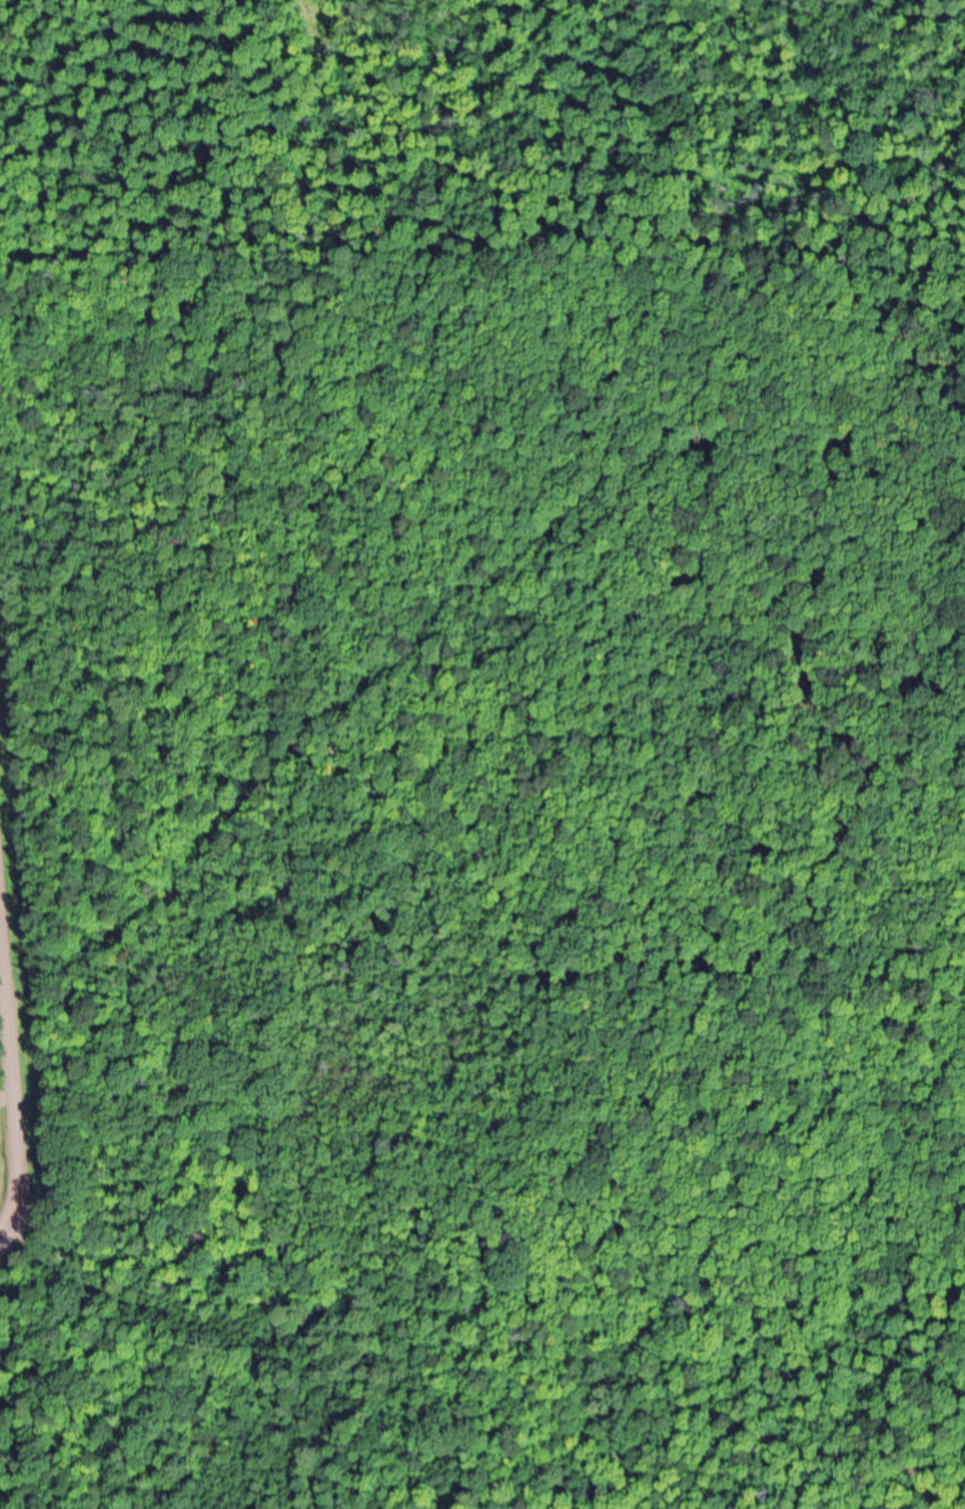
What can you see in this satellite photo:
road: (16, 990)

